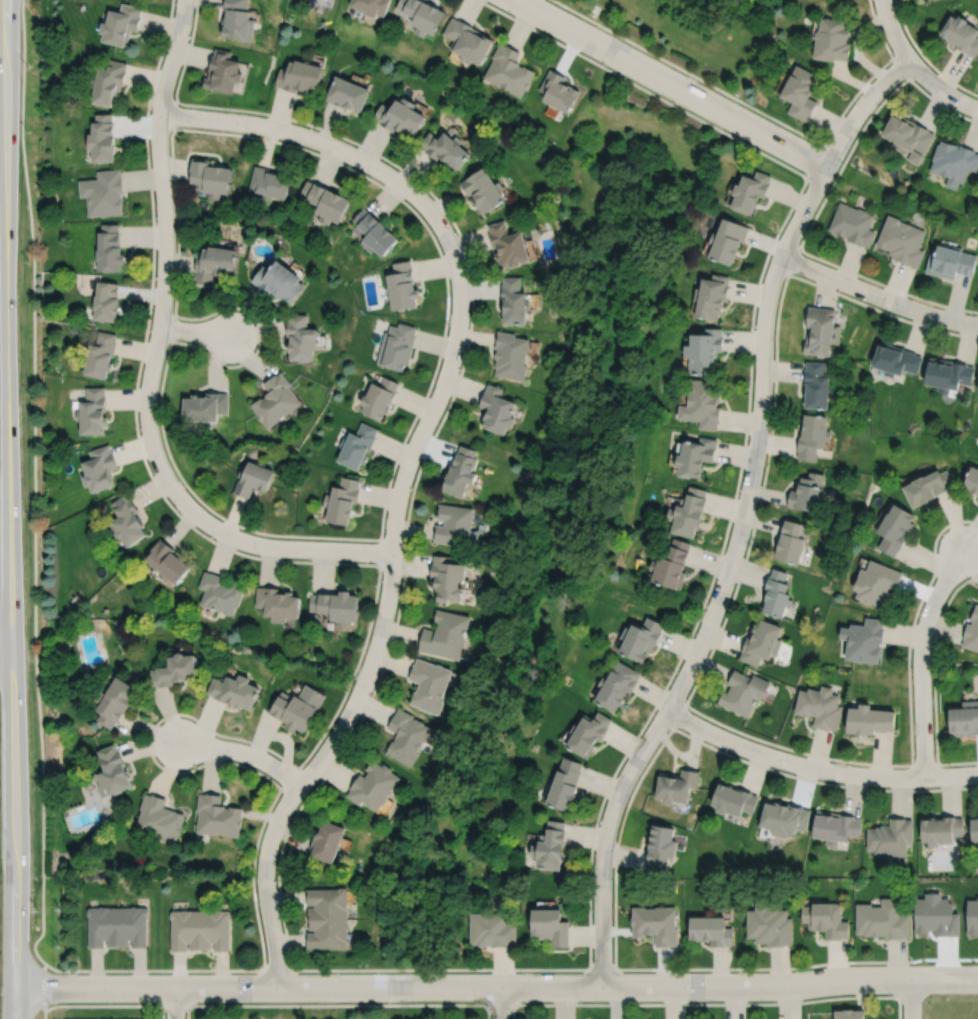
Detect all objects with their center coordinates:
street lamp: (174, 3)
building: (372, 7)
building: (424, 16)
building: (238, 21)
building: (122, 25)
road: (892, 31)
building: (961, 34)
building: (832, 39)
building: (469, 42)
road: (924, 57)
building: (510, 69)
building: (223, 70)
road: (689, 72)
building: (299, 74)
road: (907, 75)
building: (110, 81)
road: (671, 83)
road: (643, 88)
road: (940, 88)
building: (558, 89)
building: (800, 90)
building: (348, 91)
street lamp: (149, 112)
building: (401, 114)
street lamp: (249, 132)
building: (909, 135)
building: (103, 137)
road: (317, 140)
building: (447, 147)
building: (954, 160)
building: (210, 176)
street lamp: (371, 176)
building: (269, 181)
building: (485, 188)
building: (751, 189)
building: (104, 192)
building: (326, 200)
street lamp: (155, 217)
building: (853, 223)
building: (374, 231)
street lamp: (456, 234)
building: (728, 239)
building: (902, 240)
building: (510, 244)
building: (110, 247)
building: (951, 260)
building: (215, 261)
building: (279, 280)
road: (886, 284)
building: (403, 285)
building: (712, 294)
road: (877, 295)
building: (515, 300)
building: (106, 301)
road: (880, 310)
street lamp: (449, 323)
street lamp: (149, 329)
building: (822, 329)
road: (195, 331)
building: (302, 337)
road: (259, 339)
building: (397, 345)
road: (169, 348)
building: (704, 349)
street lamp: (253, 350)
building: (101, 354)
building: (512, 354)
building: (897, 359)
road: (153, 364)
road: (139, 367)
building: (948, 373)
building: (817, 384)
building: (380, 397)
building: (276, 400)
building: (701, 402)
building: (205, 407)
building: (498, 409)
building: (93, 411)
street lamp: (139, 429)
building: (813, 436)
street lamp: (408, 438)
building: (358, 446)
road: (426, 450)
building: (695, 456)
building: (100, 468)
road: (393, 468)
building: (462, 472)
building: (253, 479)
building: (972, 479)
road: (35, 484)
building: (930, 487)
building: (808, 492)
building: (342, 501)
road: (732, 507)
road: (8, 509)
street lamp: (177, 509)
building: (688, 512)
road: (743, 515)
road: (756, 517)
building: (126, 521)
building: (454, 524)
building: (896, 529)
building: (792, 542)
street lamp: (258, 555)
building: (167, 563)
building: (671, 566)
building: (448, 579)
street lamp: (381, 581)
building: (877, 582)
building: (220, 594)
building: (777, 594)
building: (278, 604)
building: (337, 607)
road: (383, 618)
road: (912, 624)
building: (972, 631)
building: (446, 635)
building: (640, 640)
building: (864, 640)
building: (762, 643)
road: (5, 649)
road: (921, 657)
road: (934, 660)
building: (174, 672)
street lamp: (354, 679)
building: (430, 686)
building: (617, 687)
building: (234, 692)
building: (744, 693)
building: (117, 701)
building: (820, 706)
building: (298, 709)
building: (965, 718)
building: (870, 719)
road: (150, 731)
building: (588, 732)
building: (406, 736)
street lamp: (246, 743)
road: (243, 752)
road: (826, 757)
street lamp: (304, 763)
road: (817, 767)
building: (113, 770)
road: (820, 781)
building: (373, 783)
building: (566, 783)
building: (675, 783)
building: (733, 798)
building: (217, 814)
building: (784, 816)
building: (159, 817)
building: (836, 825)
building: (974, 825)
building: (941, 828)
building: (891, 835)
building: (327, 839)
building: (551, 844)
building: (659, 846)
street lamp: (255, 879)
building: (327, 917)
building: (826, 918)
building: (882, 918)
building: (655, 923)
building: (769, 923)
building: (551, 925)
building: (118, 926)
building: (199, 928)
building: (491, 928)
building: (711, 928)
road: (510, 968)
street lamp: (796, 969)
street lamp: (684, 970)
street lamp: (129, 972)
street lamp: (253, 972)
street lamp: (360, 972)
road: (899, 978)
road: (43, 984)
road: (495, 986)
road: (911, 998)
street lamp: (478, 1001)
road: (500, 1002)
street lamp: (52, 1003)
road: (174, 1003)
road: (482, 1004)
road: (488, 1011)
road: (511, 1011)
road: (44, 1012)
road: (162, 1012)
road: (187, 1012)
building: (850, 1013)

